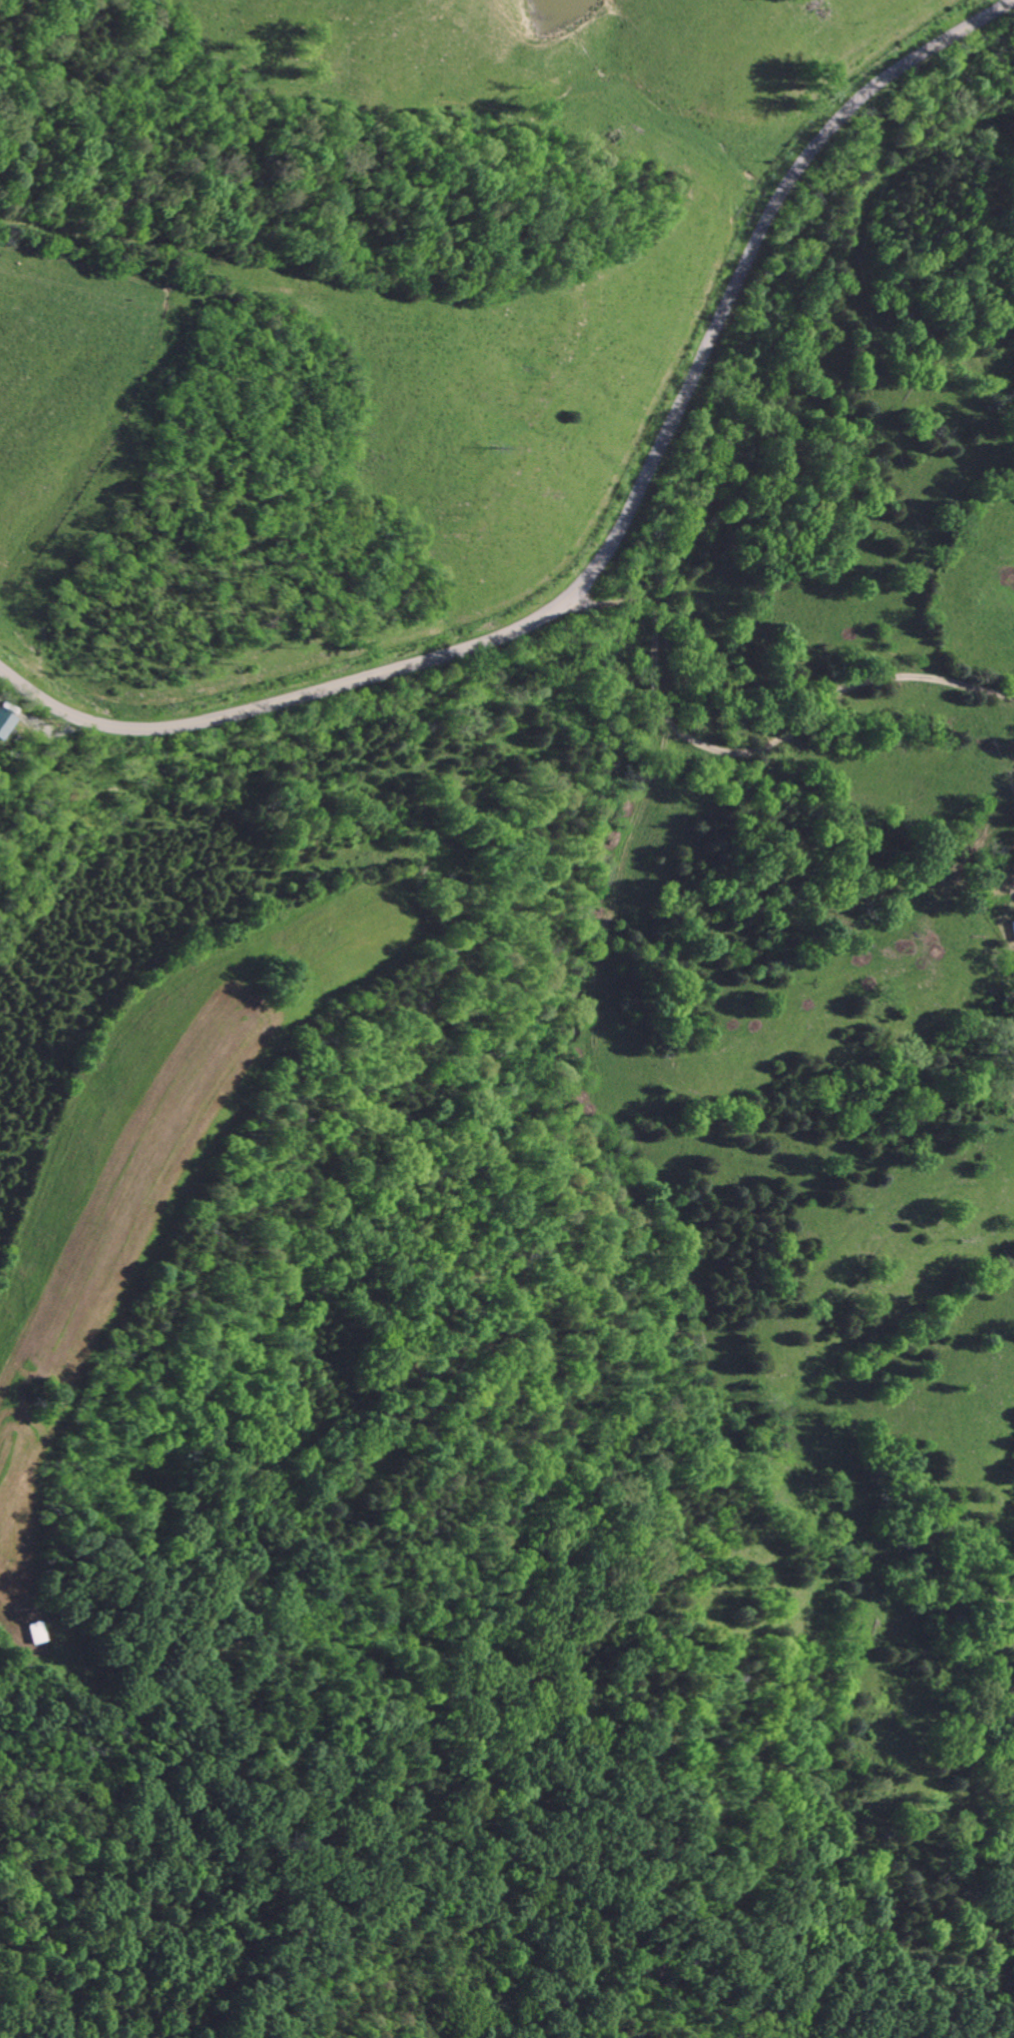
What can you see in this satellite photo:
road: (754, 234)
road: (770, 688)
road: (310, 690)
building: (4, 724)

